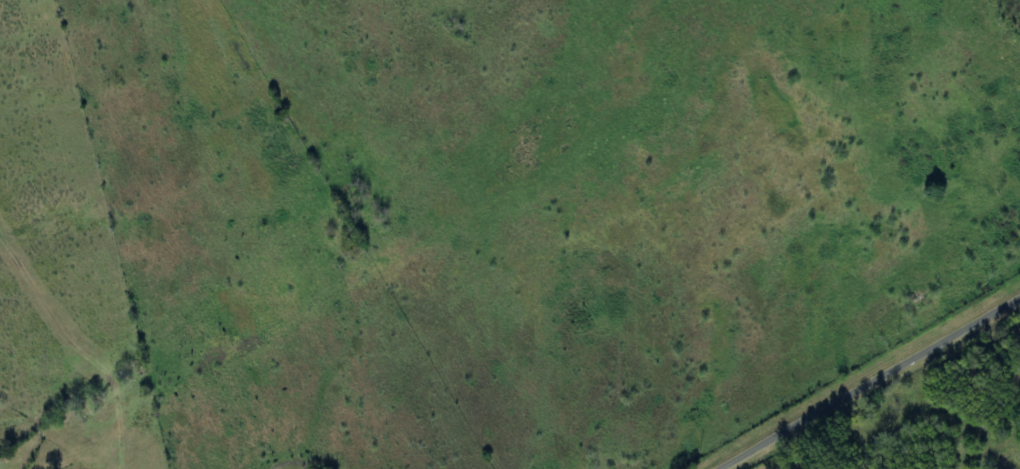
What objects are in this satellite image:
road: (874, 386)

